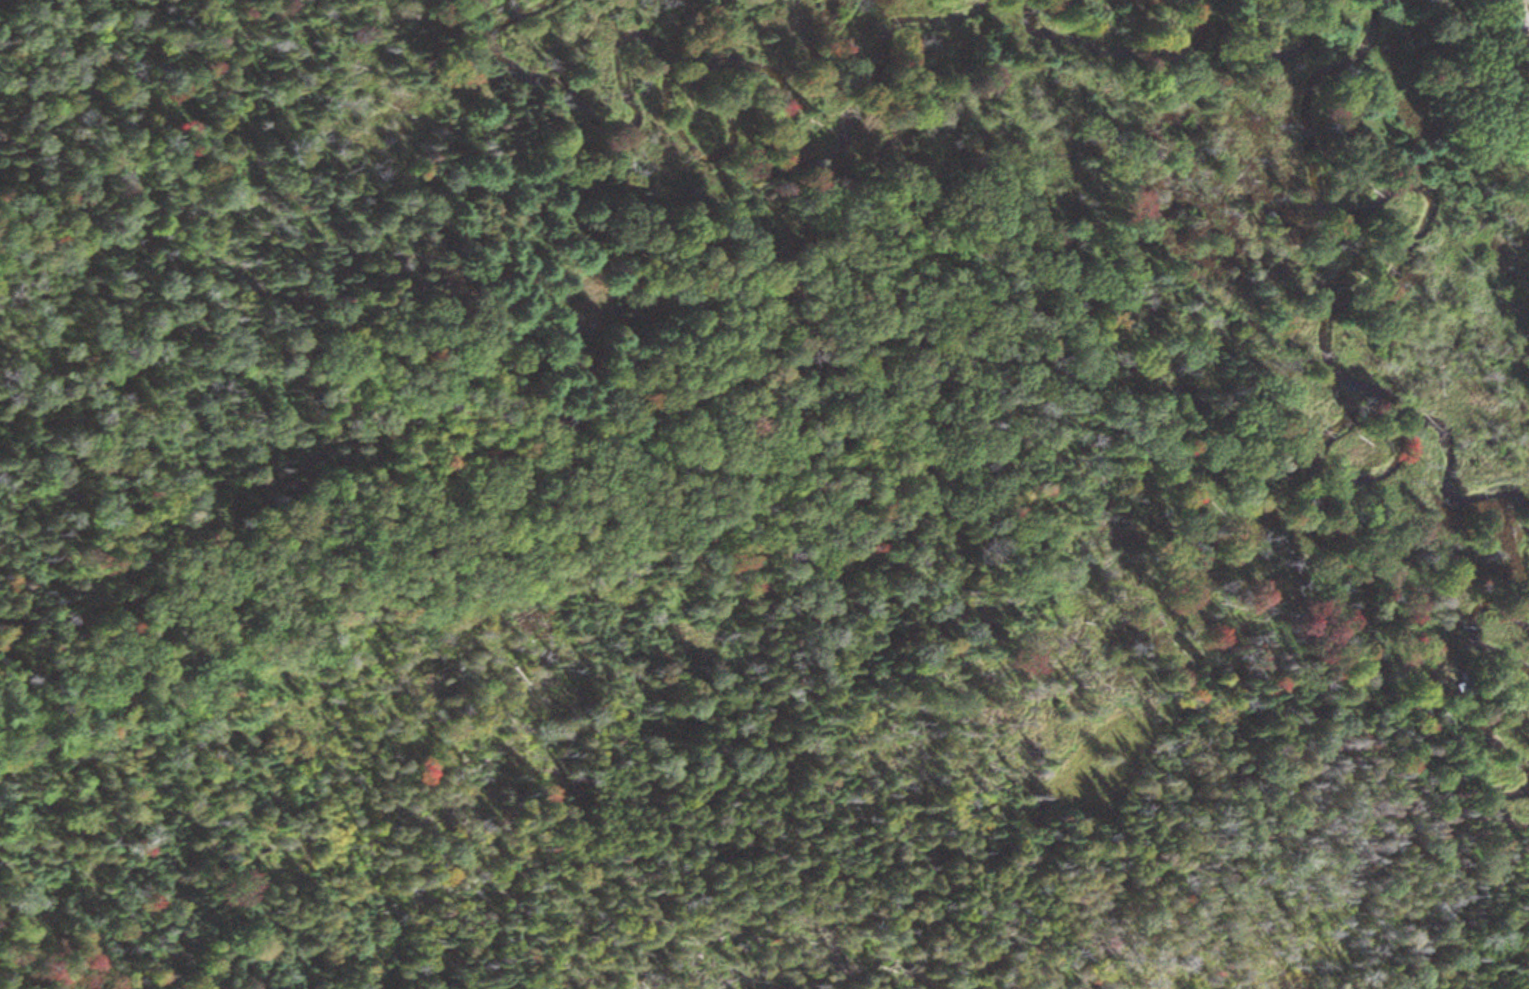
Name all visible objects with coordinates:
railway: (1516, 21)

